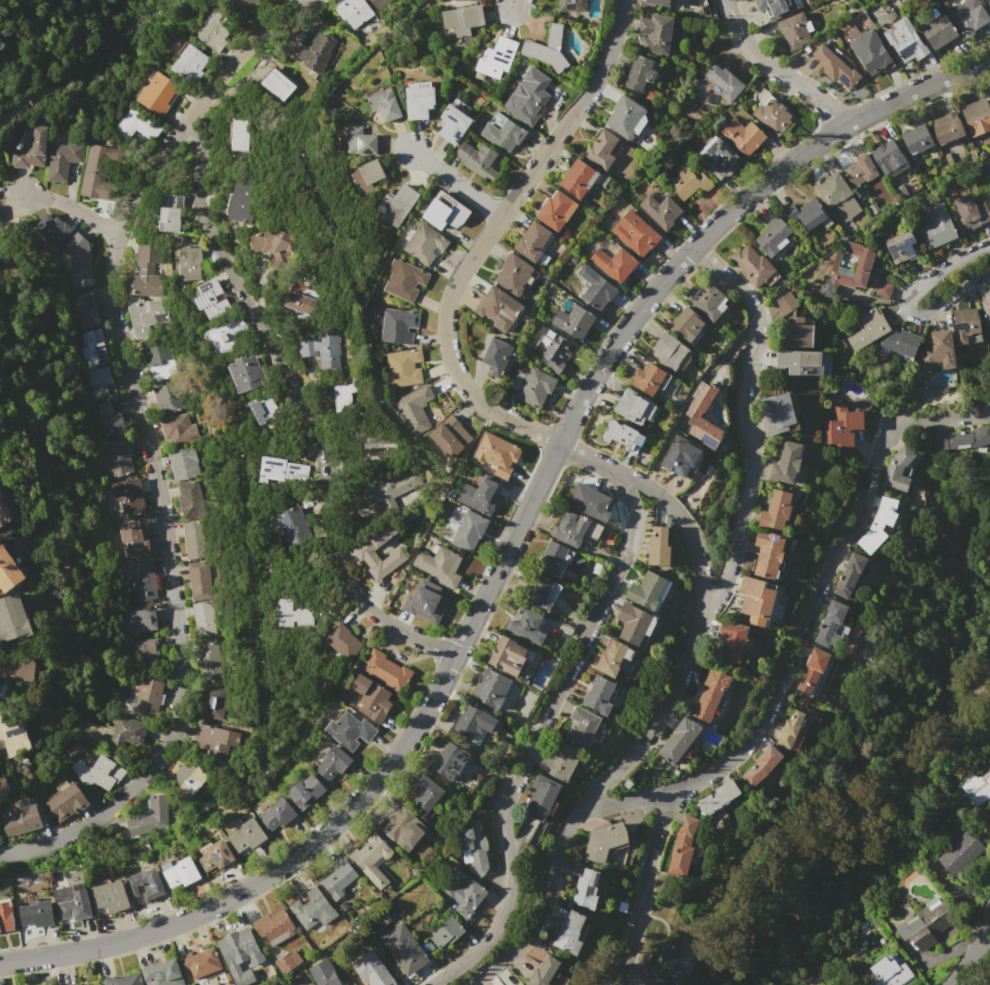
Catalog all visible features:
building: (475, 0)
building: (667, 2)
building: (988, 2)
building: (376, 3)
road: (512, 3)
building: (247, 5)
building: (572, 6)
building: (777, 7)
building: (353, 12)
building: (968, 17)
building: (462, 19)
road: (618, 23)
building: (795, 30)
building: (216, 31)
building: (938, 31)
building: (658, 34)
building: (905, 40)
building: (547, 48)
building: (313, 52)
building: (871, 52)
building: (496, 58)
building: (188, 63)
building: (834, 67)
road: (775, 70)
building: (642, 77)
building: (721, 83)
building: (278, 84)
building: (156, 92)
building: (528, 96)
building: (419, 100)
building: (385, 104)
building: (459, 105)
building: (771, 114)
building: (977, 116)
building: (625, 117)
building: (453, 124)
building: (136, 125)
building: (947, 127)
building: (502, 132)
building: (240, 134)
building: (743, 135)
building: (916, 139)
building: (360, 141)
building: (30, 148)
building: (601, 149)
building: (889, 158)
building: (62, 160)
building: (477, 160)
building: (717, 160)
building: (96, 170)
building: (860, 170)
building: (365, 176)
building: (582, 178)
road: (455, 183)
building: (689, 183)
building: (837, 198)
building: (241, 199)
building: (396, 206)
road: (71, 208)
building: (555, 210)
building: (444, 211)
building: (660, 211)
building: (170, 212)
building: (969, 212)
building: (808, 214)
building: (938, 227)
building: (52, 228)
building: (634, 233)
building: (773, 236)
building: (425, 243)
building: (274, 244)
building: (534, 244)
building: (900, 247)
building: (191, 261)
building: (75, 263)
building: (614, 263)
building: (753, 266)
building: (147, 269)
building: (847, 270)
building: (516, 274)
road: (456, 278)
building: (404, 280)
building: (594, 288)
building: (884, 289)
building: (210, 300)
building: (708, 301)
building: (301, 303)
building: (786, 303)
road: (907, 303)
building: (986, 308)
building: (502, 309)
building: (85, 310)
building: (146, 315)
building: (574, 321)
building: (687, 324)
building: (397, 326)
building: (966, 326)
building: (867, 331)
building: (227, 334)
building: (797, 335)
building: (901, 344)
building: (92, 347)
building: (321, 348)
building: (554, 351)
building: (938, 351)
building: (671, 352)
building: (496, 357)
building: (158, 359)
building: (804, 363)
building: (404, 367)
building: (246, 373)
building: (649, 379)
building: (100, 382)
building: (535, 387)
building: (344, 396)
building: (166, 397)
road: (296, 397)
building: (634, 407)
building: (696, 407)
building: (414, 409)
building: (264, 411)
building: (777, 413)
building: (110, 420)
building: (842, 424)
building: (177, 430)
building: (625, 436)
building: (449, 437)
road: (751, 437)
building: (961, 438)
road: (144, 440)
building: (374, 444)
building: (119, 453)
building: (497, 454)
building: (681, 455)
building: (787, 462)
building: (183, 463)
building: (898, 468)
building: (280, 471)
building: (387, 488)
building: (479, 496)
building: (124, 498)
building: (189, 499)
building: (589, 501)
building: (776, 509)
building: (3, 515)
building: (293, 525)
building: (878, 526)
building: (575, 528)
building: (469, 530)
road: (691, 537)
building: (193, 539)
building: (134, 541)
road: (509, 541)
building: (658, 546)
building: (365, 554)
building: (768, 554)
building: (552, 558)
building: (440, 565)
building: (8, 571)
road: (825, 571)
building: (849, 575)
building: (141, 579)
building: (198, 580)
building: (645, 592)
building: (541, 593)
building: (756, 600)
building: (426, 603)
building: (292, 614)
building: (12, 618)
building: (203, 620)
building: (830, 621)
building: (138, 622)
building: (632, 625)
building: (527, 627)
building: (839, 633)
building: (343, 640)
building: (732, 643)
building: (144, 651)
building: (867, 652)
building: (508, 656)
building: (206, 660)
building: (610, 660)
building: (17, 667)
building: (386, 670)
building: (812, 671)
building: (491, 688)
building: (149, 690)
building: (710, 695)
building: (599, 696)
building: (369, 697)
building: (210, 702)
building: (472, 722)
building: (583, 727)
building: (129, 730)
building: (350, 730)
building: (789, 730)
road: (537, 731)
building: (13, 738)
building: (678, 741)
building: (218, 742)
building: (72, 750)
building: (562, 760)
building: (449, 761)
building: (333, 763)
building: (761, 766)
building: (98, 772)
building: (197, 777)
building: (975, 790)
building: (307, 791)
building: (425, 794)
building: (539, 797)
building: (718, 797)
road: (623, 798)
building: (66, 802)
building: (279, 813)
road: (571, 813)
building: (20, 817)
building: (151, 817)
building: (399, 824)
building: (253, 832)
building: (238, 840)
building: (604, 841)
building: (472, 845)
building: (682, 846)
building: (960, 852)
building: (215, 856)
building: (372, 858)
building: (182, 872)
building: (339, 878)
road: (643, 878)
building: (145, 884)
building: (586, 889)
building: (464, 895)
building: (110, 896)
building: (72, 902)
building: (313, 909)
building: (37, 914)
building: (6, 917)
building: (274, 926)
building: (926, 926)
building: (447, 932)
building: (570, 932)
road: (974, 952)
building: (240, 953)
building: (411, 959)
building: (288, 961)
building: (200, 963)
building: (665, 964)
building: (371, 970)
building: (543, 970)
building: (887, 972)
building: (163, 973)
building: (324, 973)
building: (124, 980)
road: (983, 983)
building: (74, 984)
building: (98, 984)
building: (515, 984)

